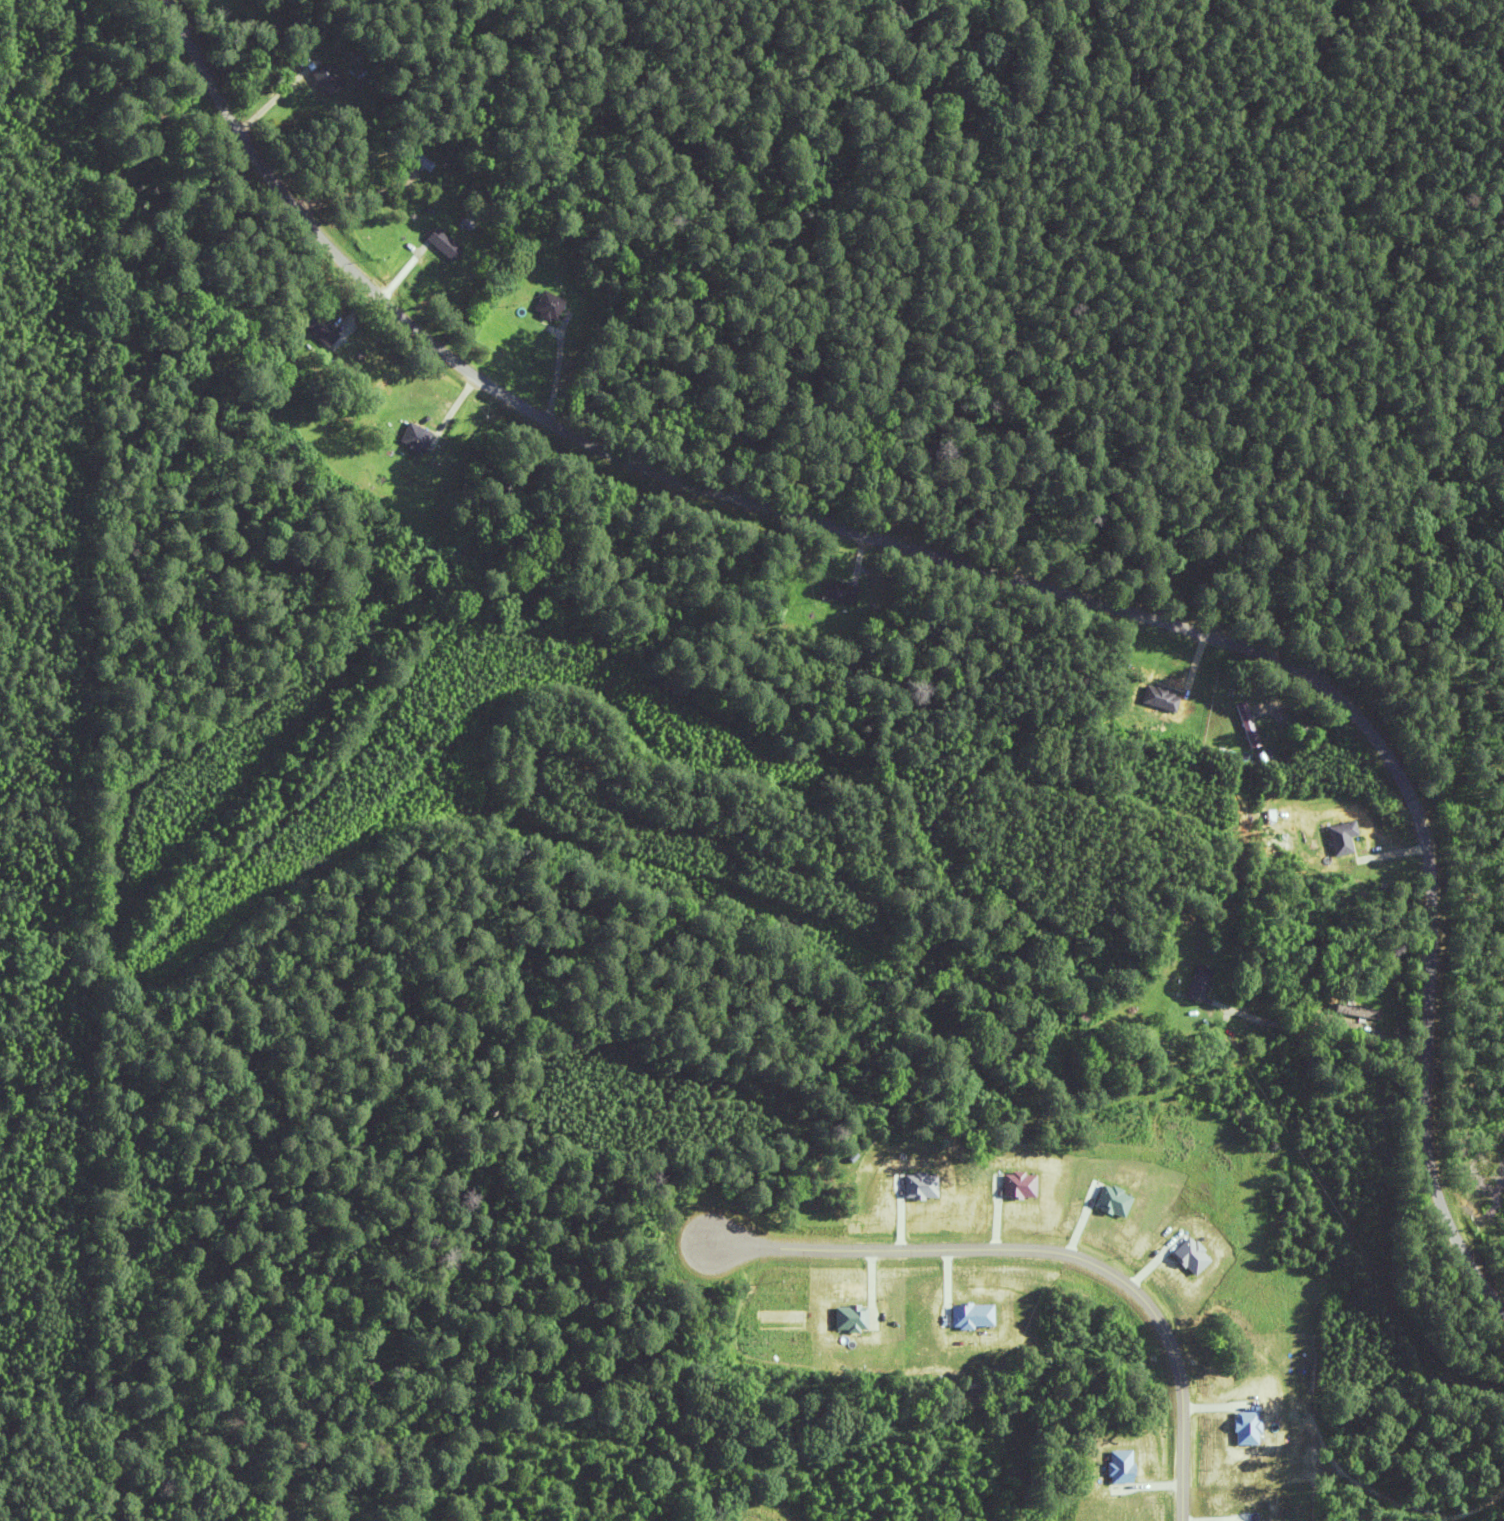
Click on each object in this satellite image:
building: (322, 77)
building: (411, 157)
building: (438, 243)
building: (548, 305)
building: (311, 328)
building: (411, 437)
road: (987, 551)
building: (833, 592)
building: (1167, 697)
building: (1256, 723)
building: (1305, 729)
building: (1345, 837)
building: (1191, 983)
road: (1363, 992)
building: (1351, 1010)
building: (1078, 1013)
building: (1028, 1064)
building: (916, 1187)
building: (1015, 1187)
building: (1110, 1203)
road: (1046, 1253)
building: (1190, 1258)
building: (968, 1316)
building: (848, 1321)
building: (1246, 1430)
building: (1119, 1468)

